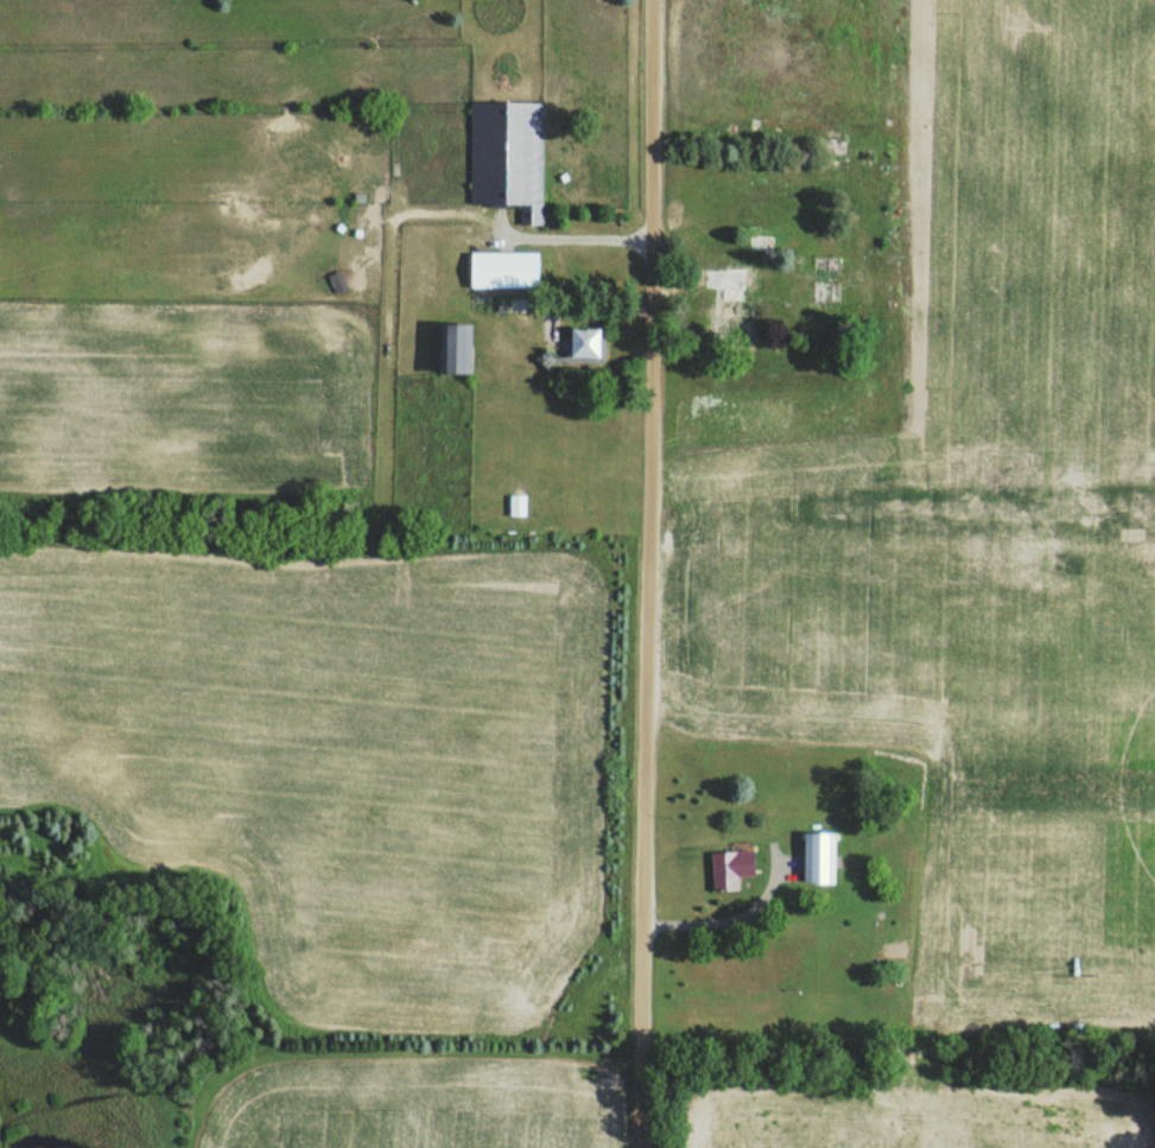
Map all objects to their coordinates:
building: (506, 158)
building: (768, 247)
building: (501, 272)
building: (825, 281)
building: (732, 300)
building: (584, 344)
building: (449, 349)
building: (515, 507)
road: (648, 573)
building: (814, 860)
building: (728, 871)
road: (723, 925)

